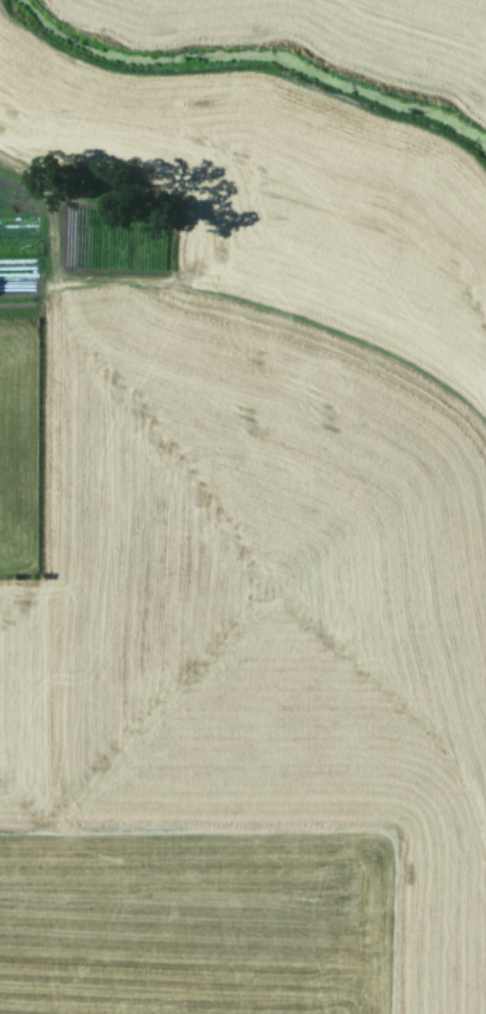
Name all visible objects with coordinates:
crop: (243, 507)

